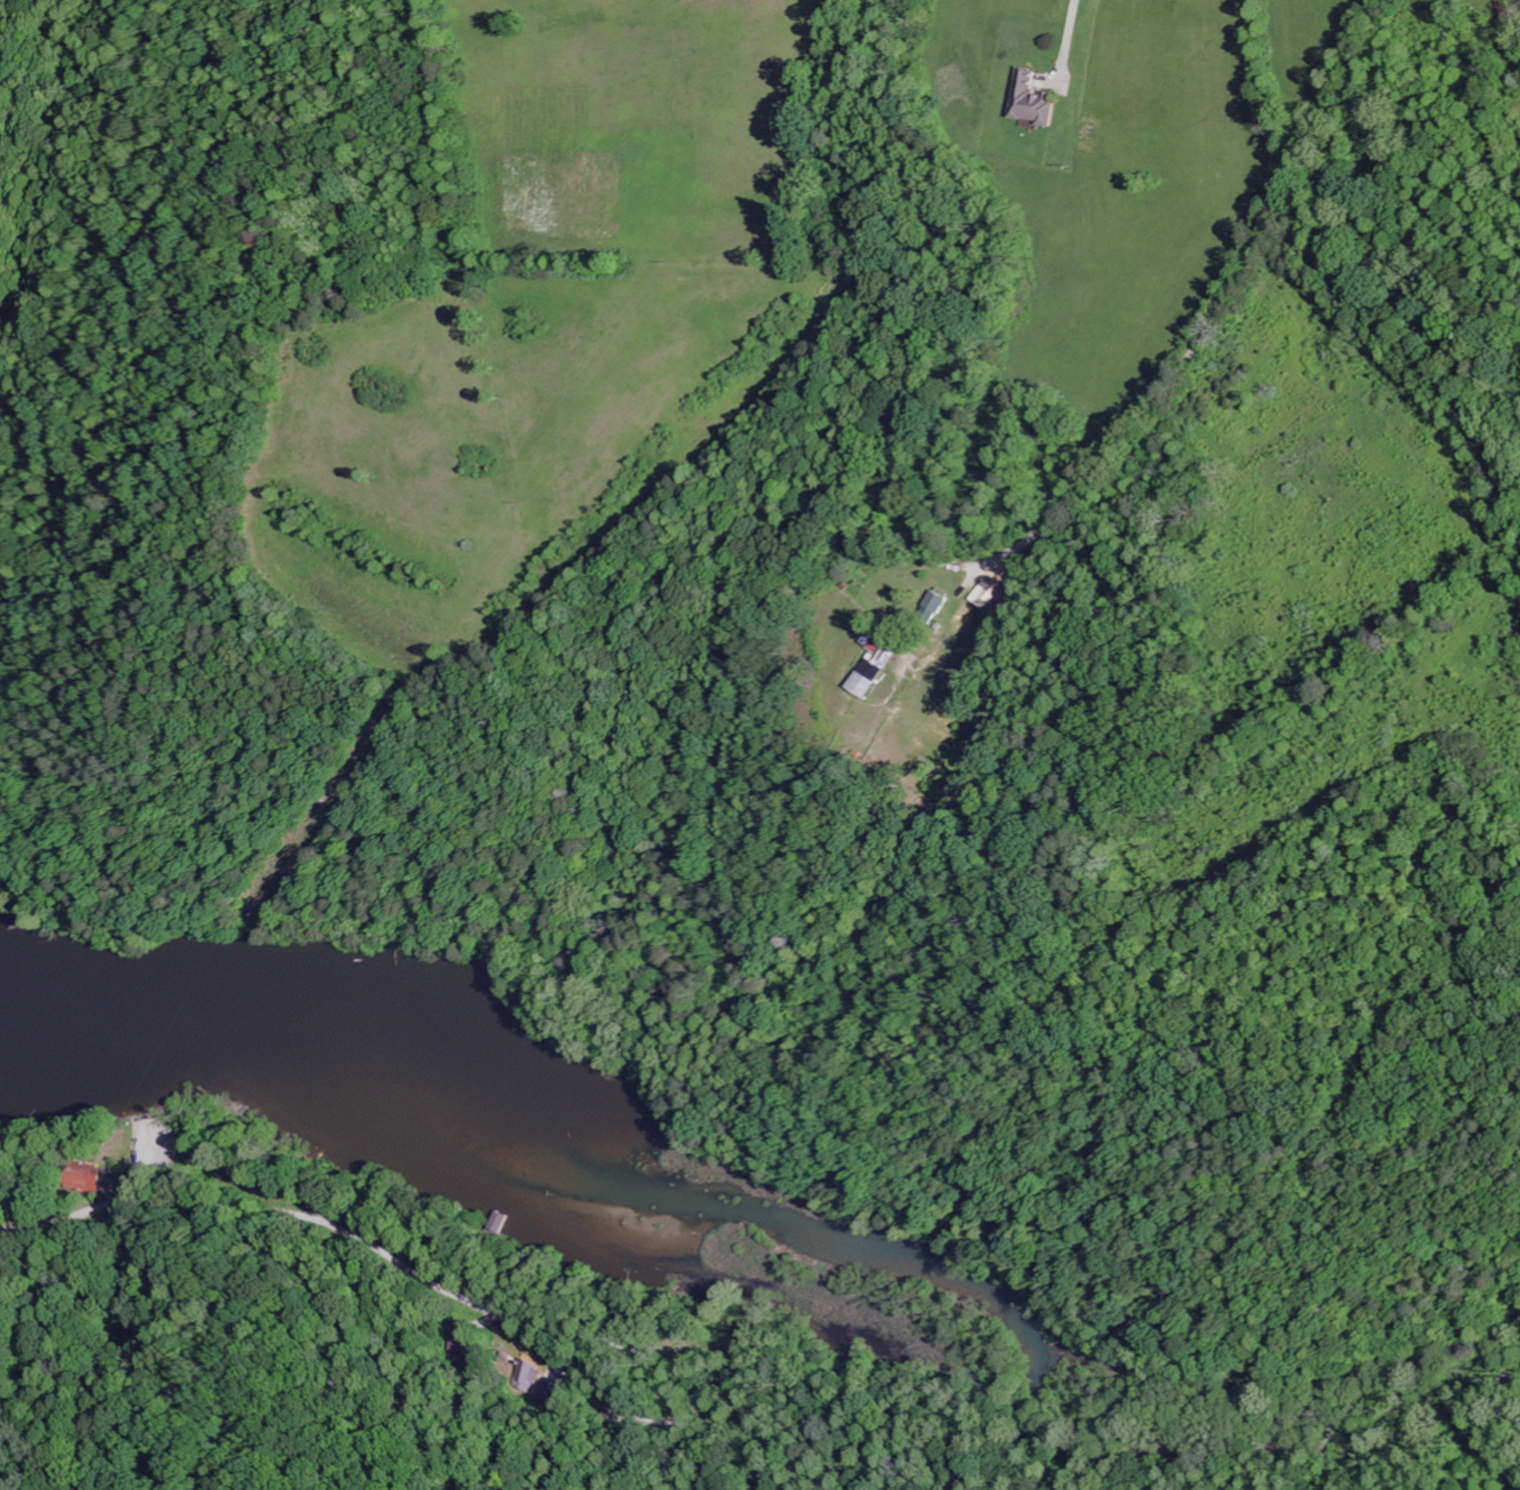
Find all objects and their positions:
building: (1029, 101)
building: (940, 605)
building: (99, 1181)
road: (295, 1255)

